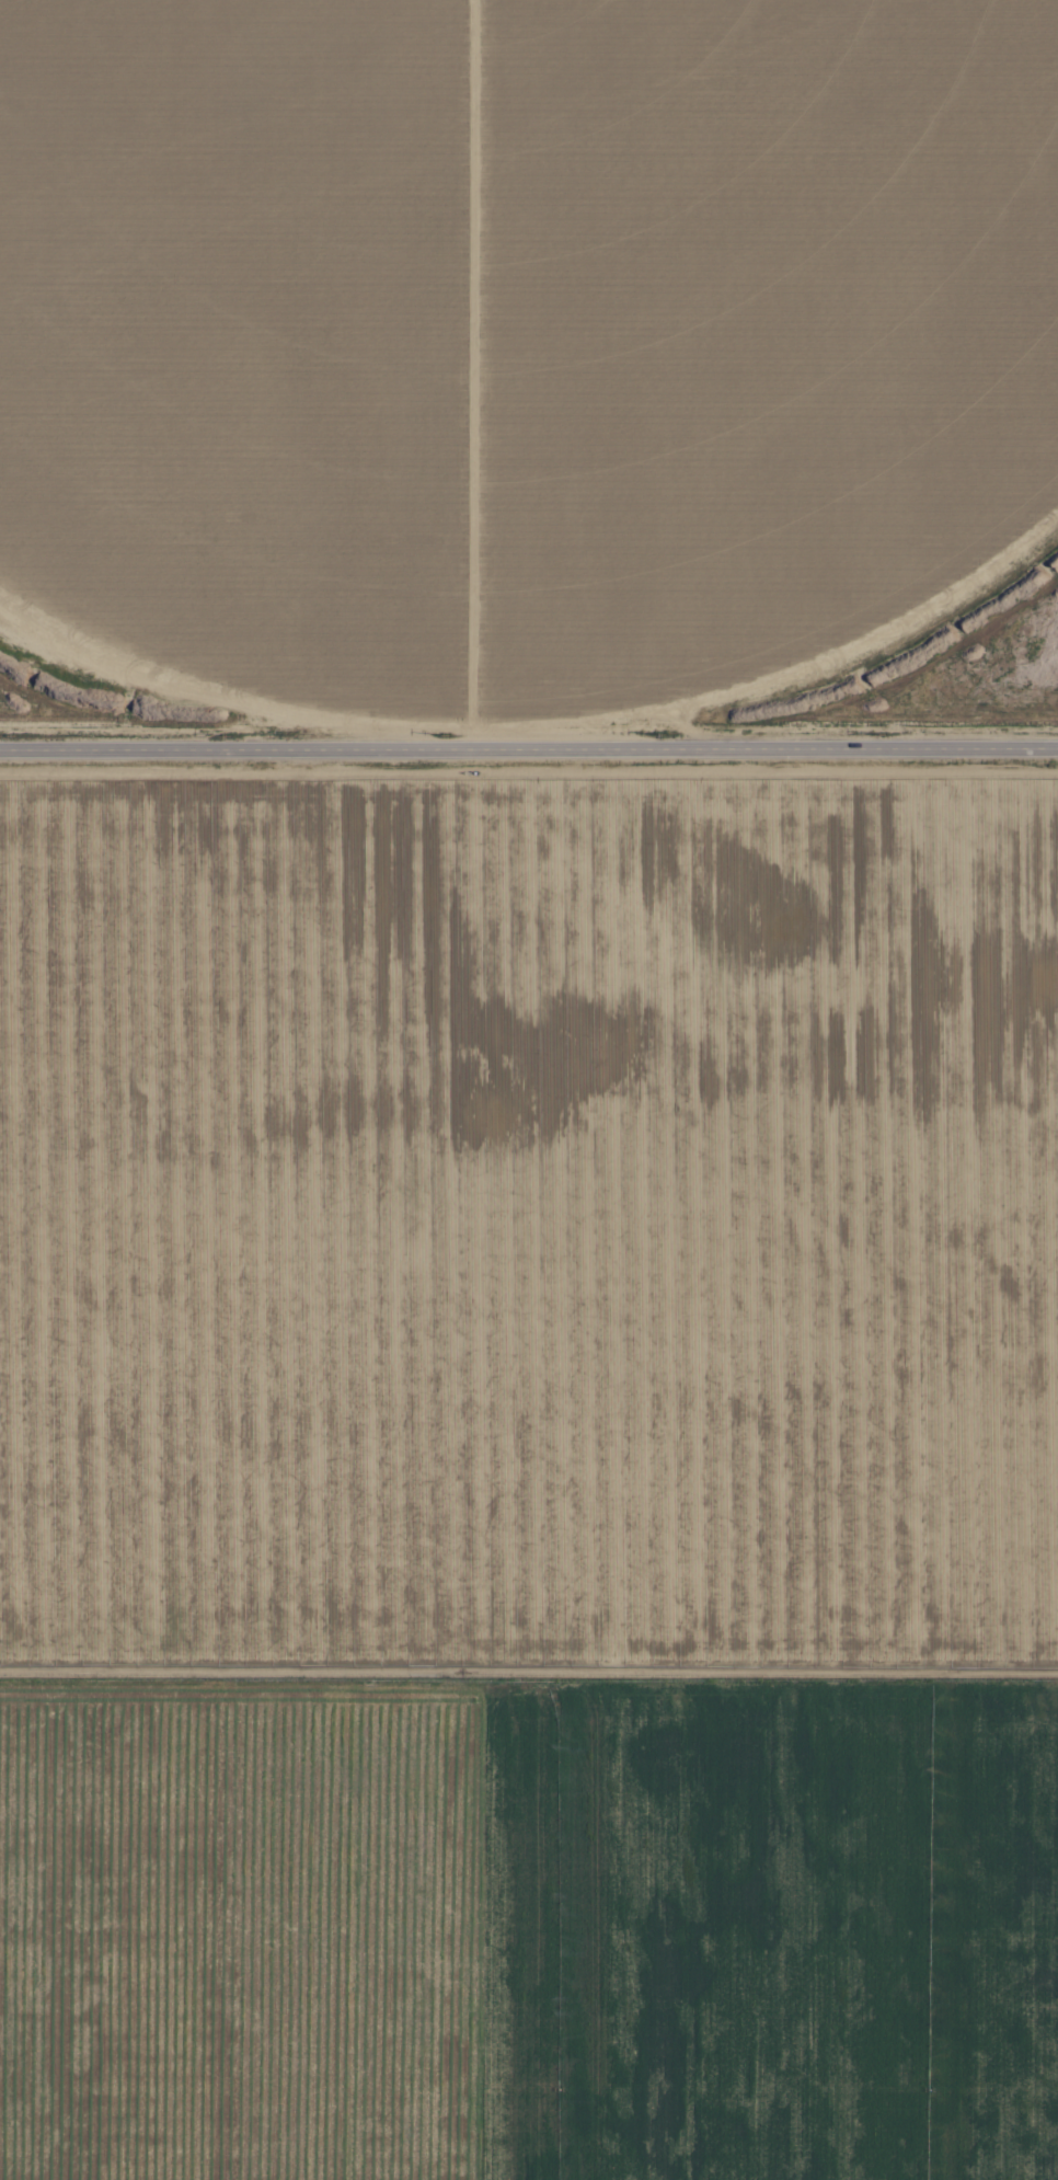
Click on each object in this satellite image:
road: (529, 753)
crop: (527, 1099)

